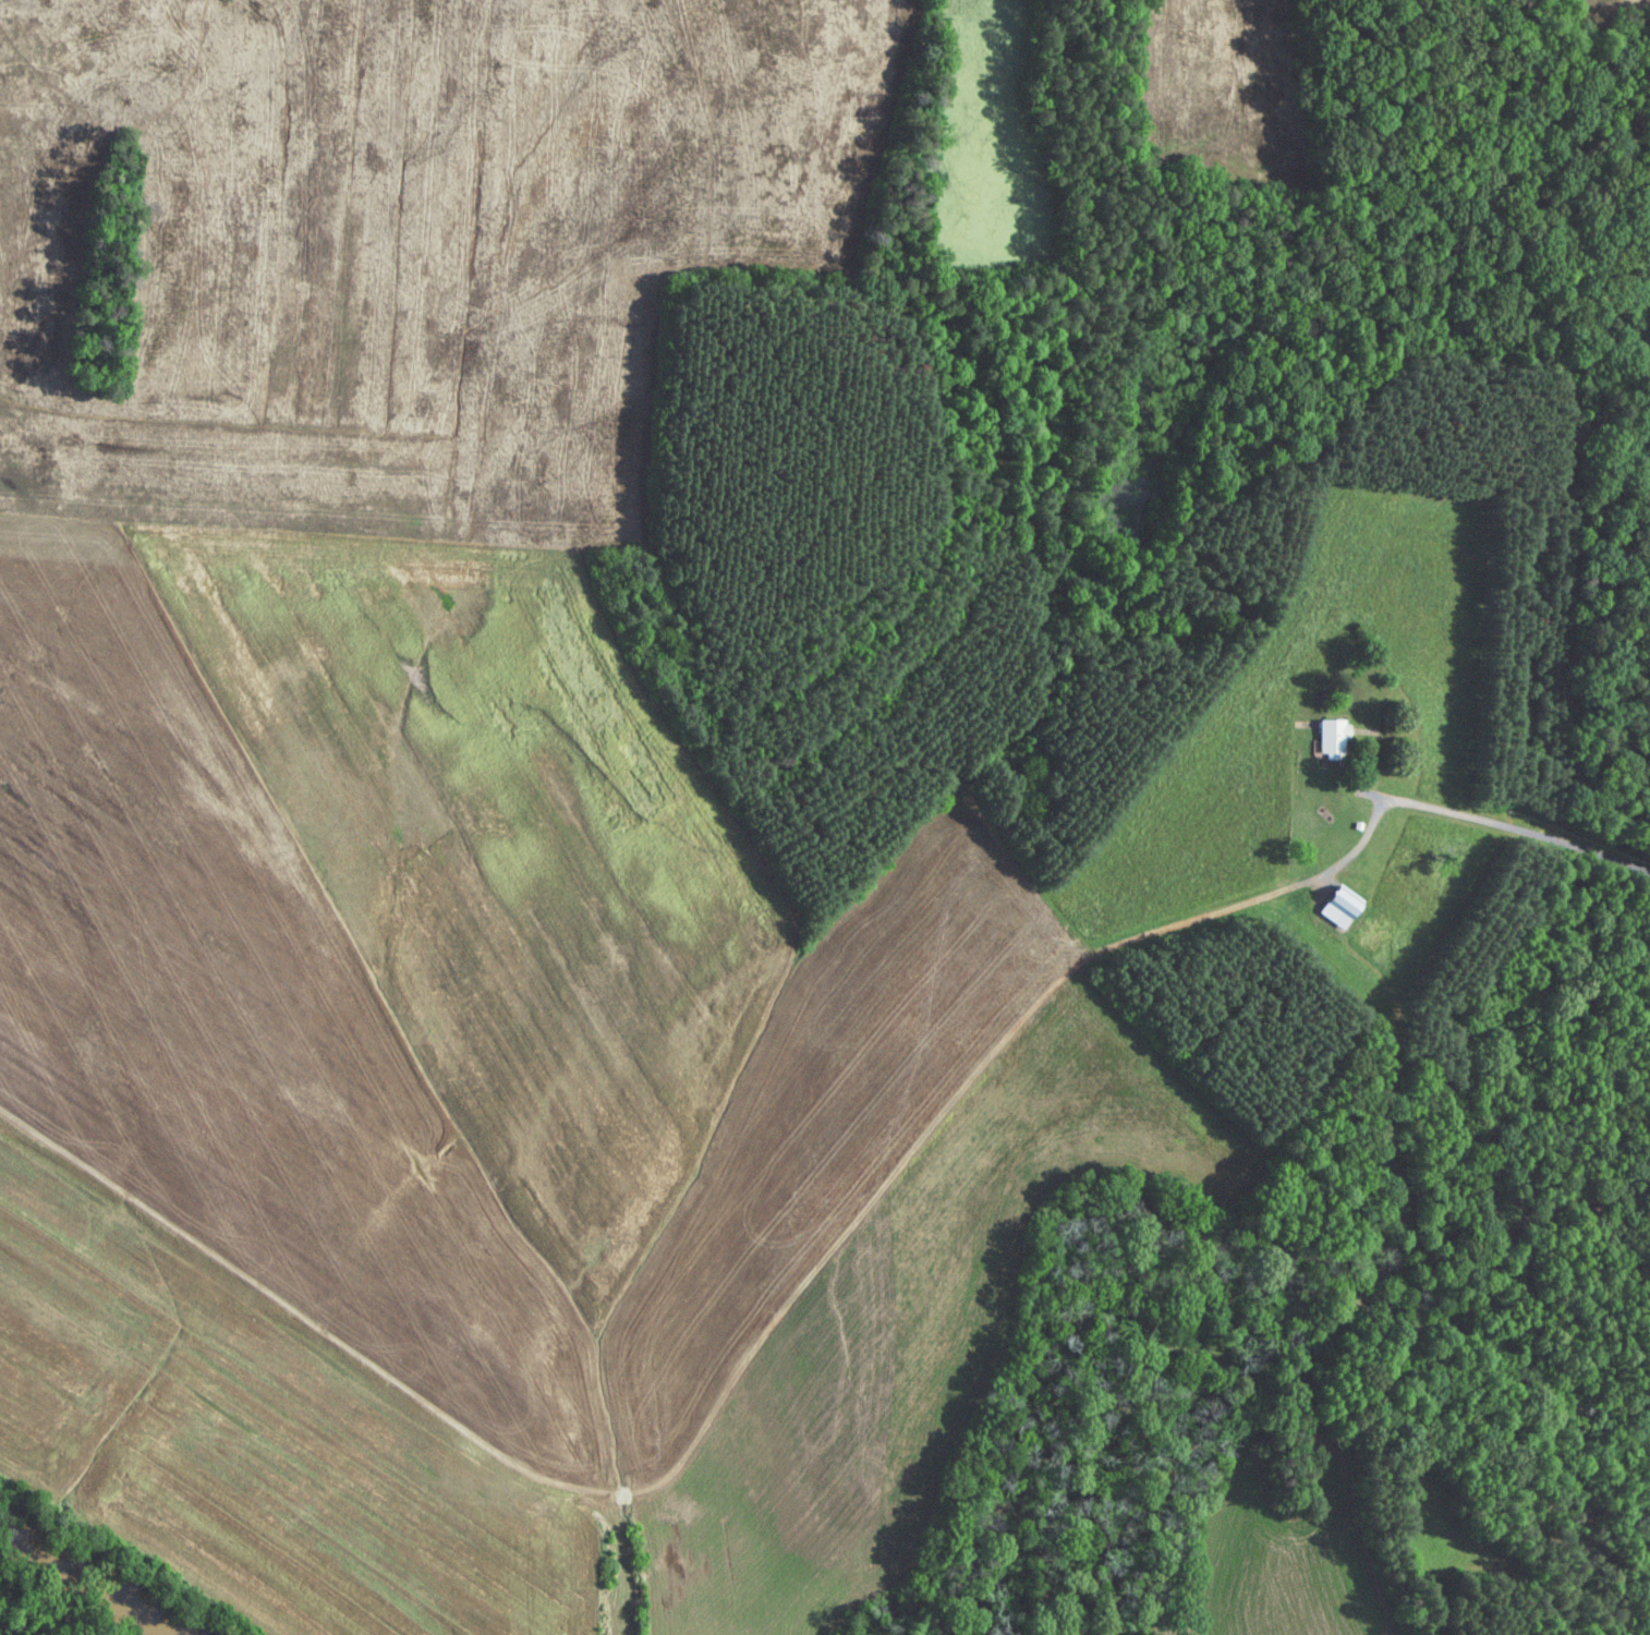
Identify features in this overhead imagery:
building: (1329, 736)
road: (1481, 819)
building: (1334, 904)
river: (63, 1590)

